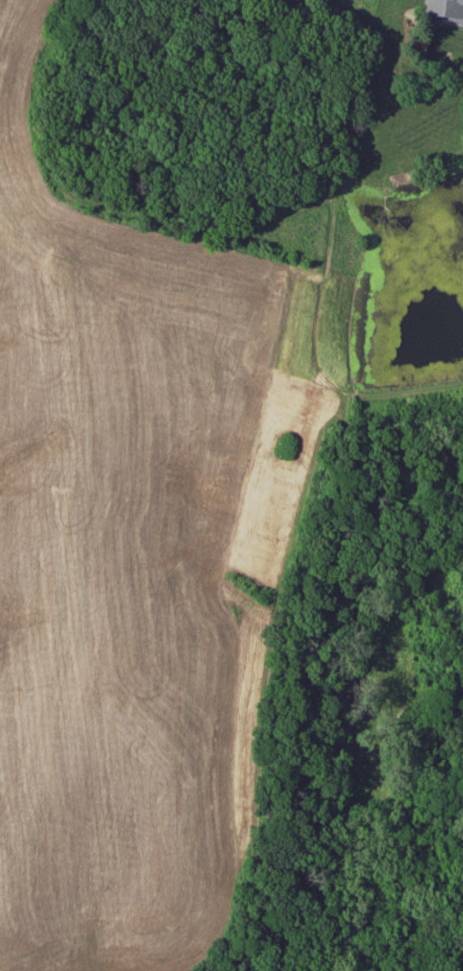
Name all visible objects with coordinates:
building: (444, 10)

